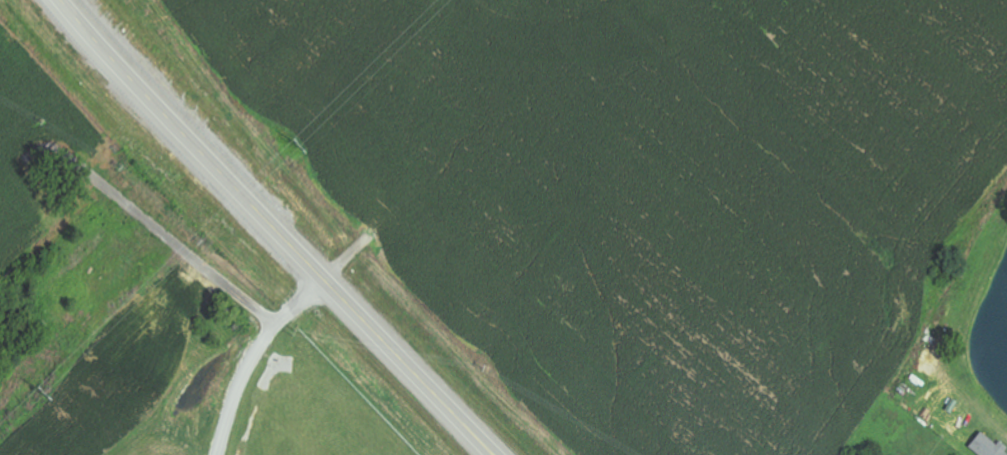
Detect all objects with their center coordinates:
road: (276, 229)
building: (989, 445)

